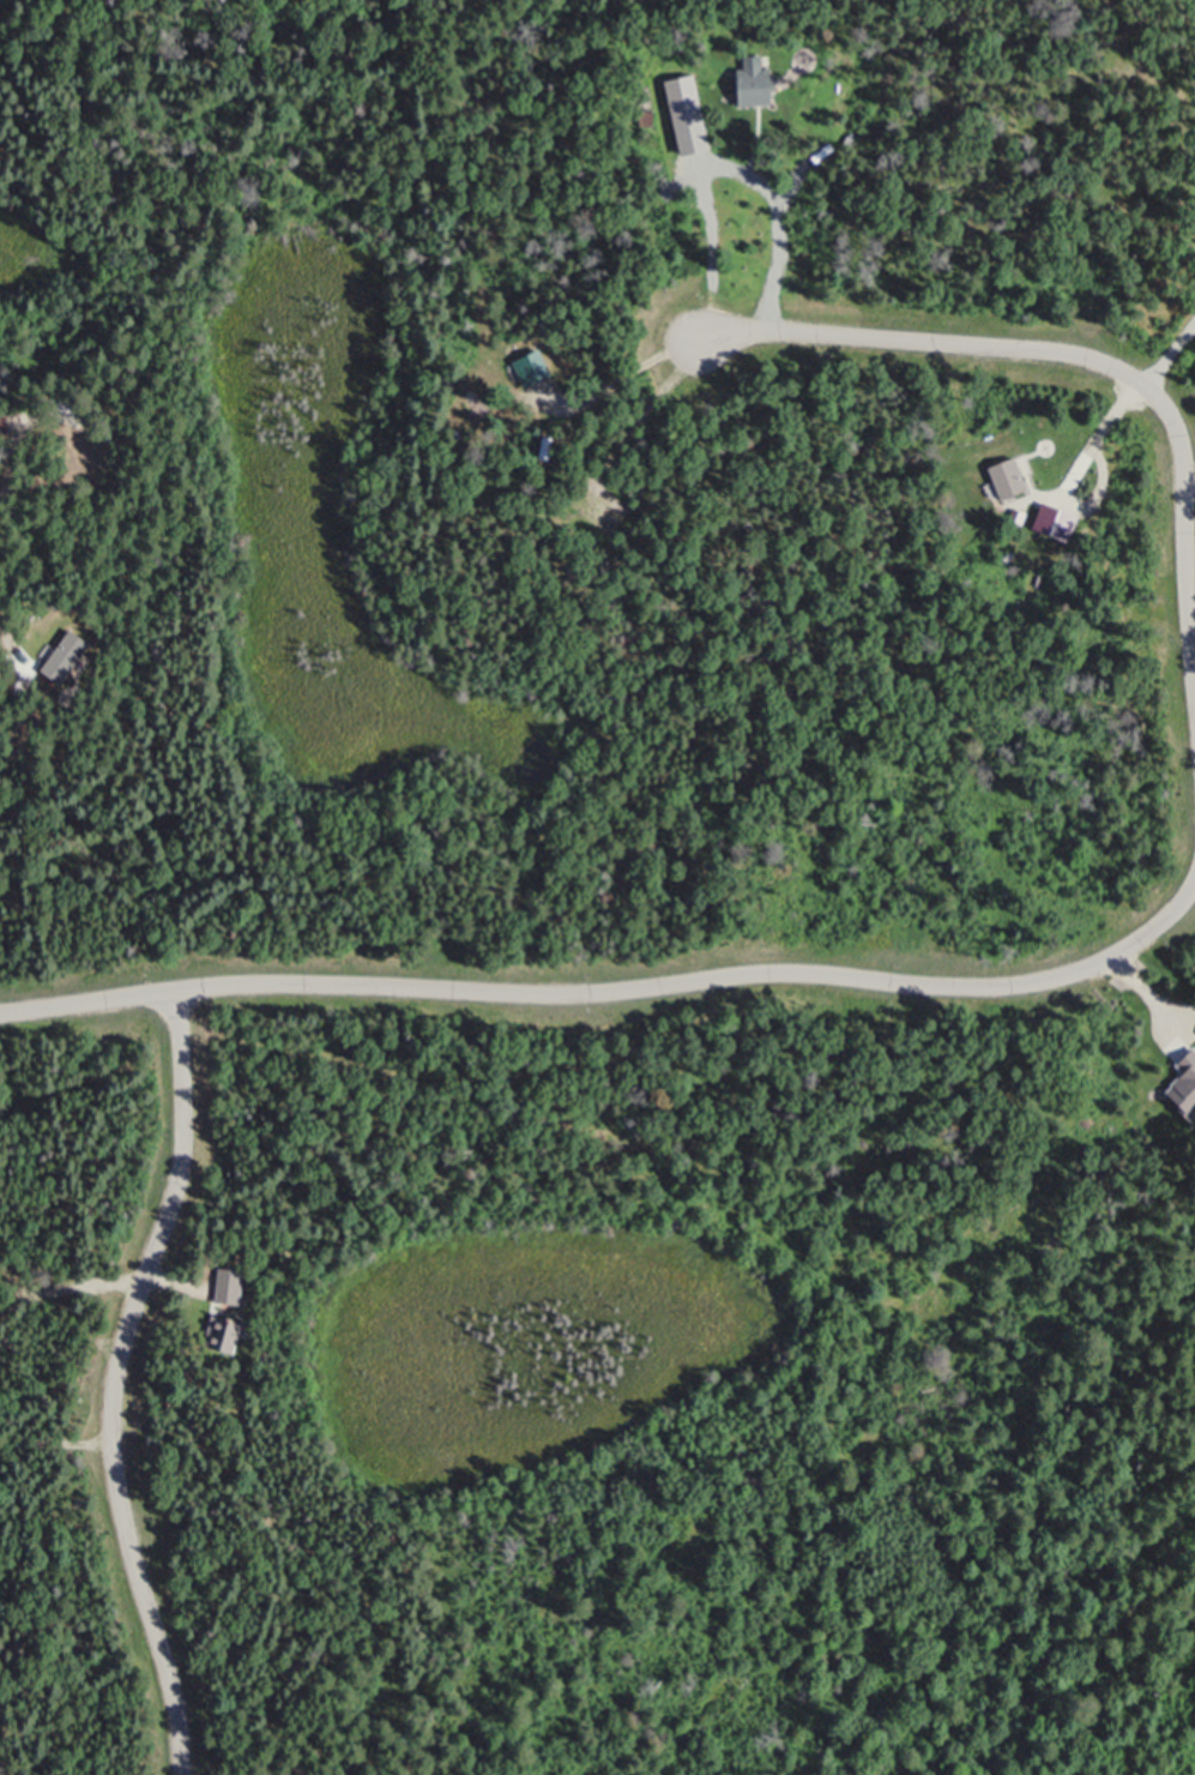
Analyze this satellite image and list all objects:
building: (759, 85)
building: (701, 140)
road: (1087, 356)
building: (1060, 522)
road: (612, 991)
building: (233, 1287)
building: (227, 1335)
road: (114, 1379)

